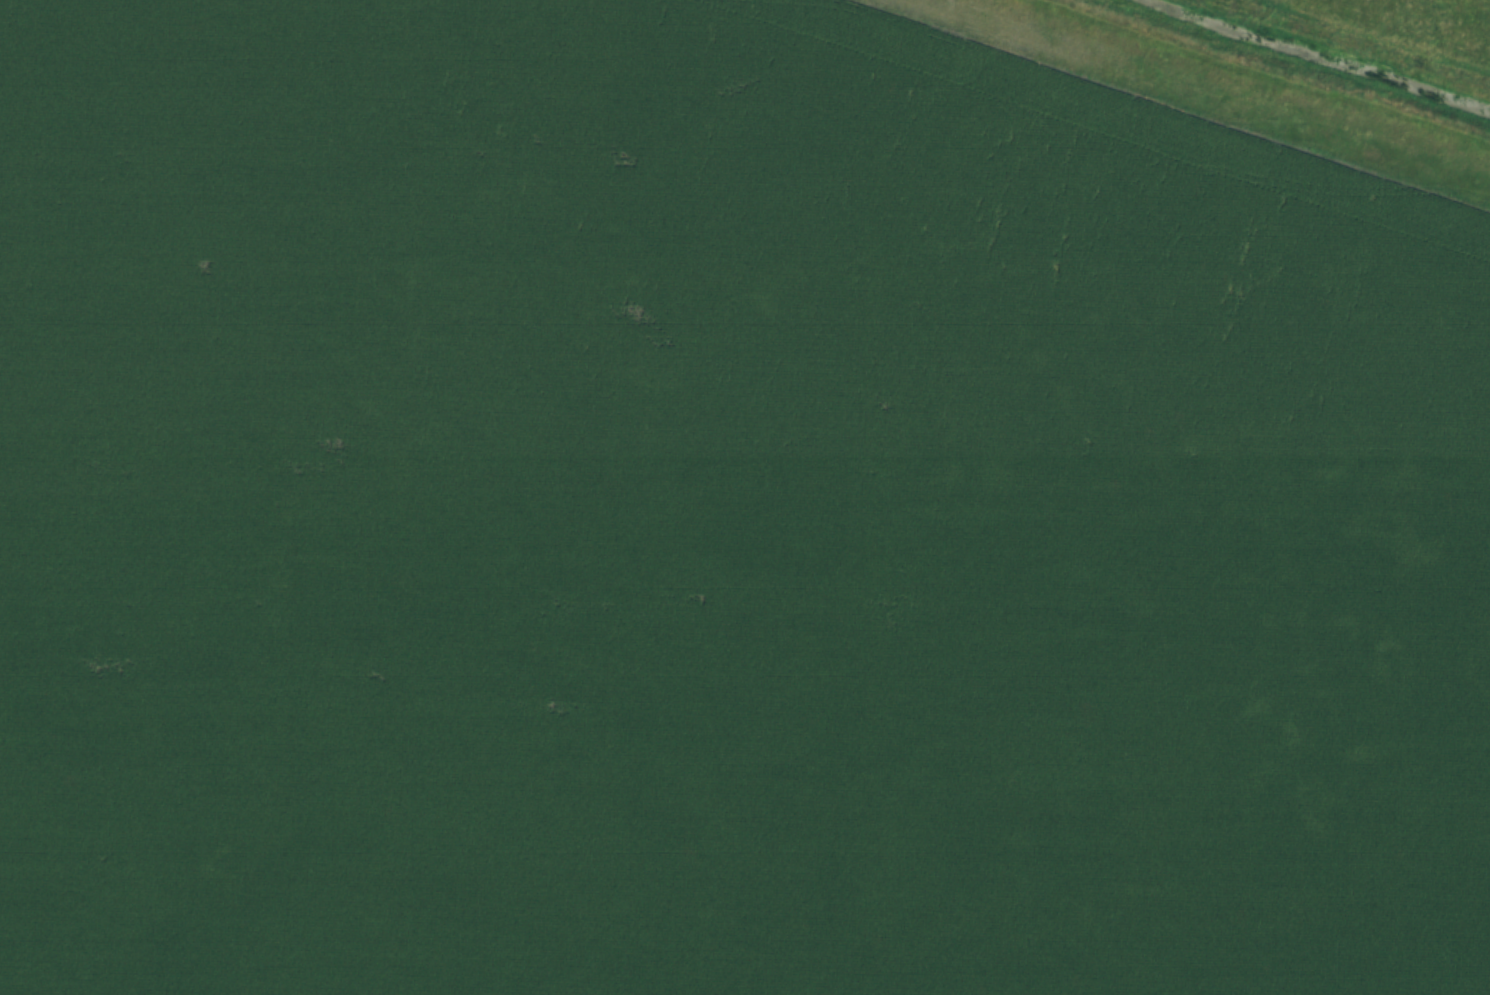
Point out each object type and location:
river: (1348, 45)

